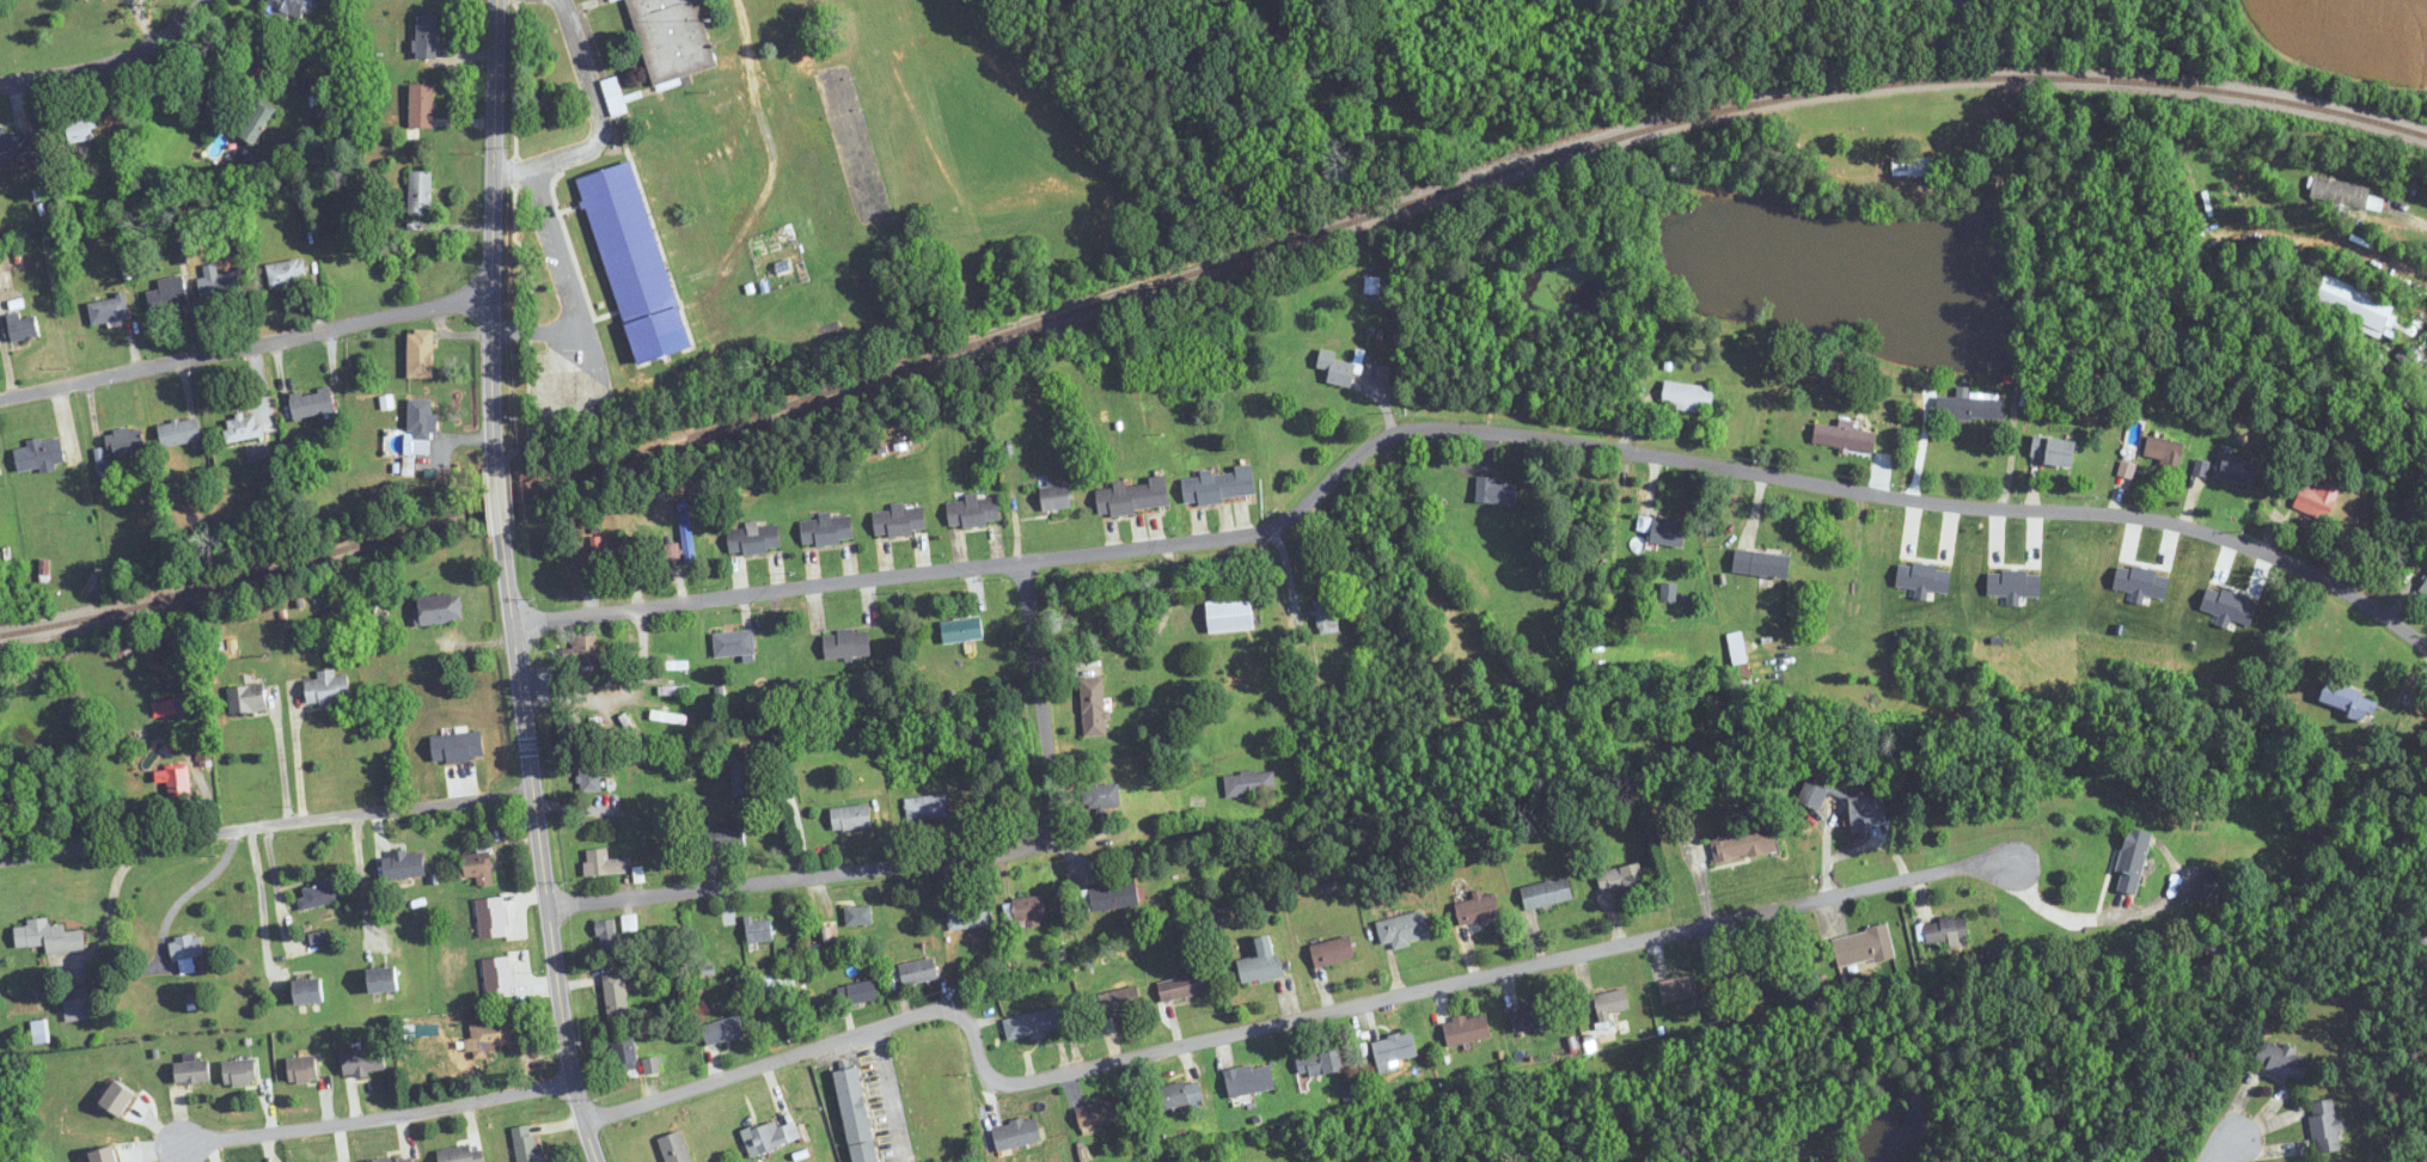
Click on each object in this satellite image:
building: (86, 0)
building: (287, 7)
building: (427, 36)
building: (671, 39)
road: (110, 61)
building: (613, 96)
building: (421, 105)
building: (677, 109)
building: (722, 111)
building: (256, 124)
building: (81, 129)
building: (17, 141)
building: (723, 165)
building: (1911, 166)
road: (518, 167)
road: (548, 184)
building: (420, 192)
building: (2345, 194)
road: (2414, 218)
road: (493, 232)
railway: (1203, 273)
building: (286, 274)
building: (218, 283)
building: (1368, 288)
building: (169, 294)
building: (2354, 304)
building: (109, 310)
road: (2018, 324)
building: (23, 328)
road: (246, 344)
building: (421, 353)
building: (1337, 368)
building: (1502, 371)
building: (1687, 396)
building: (311, 403)
building: (1970, 405)
building: (421, 426)
building: (243, 428)
road: (1469, 432)
building: (179, 433)
building: (1841, 434)
building: (124, 442)
building: (2054, 451)
building: (2164, 451)
building: (41, 454)
building: (2236, 469)
building: (1218, 487)
building: (1496, 493)
building: (1133, 496)
building: (1056, 497)
road: (497, 499)
building: (2317, 500)
building: (973, 510)
road: (1016, 513)
building: (899, 521)
building: (827, 530)
building: (1662, 531)
building: (754, 538)
building: (687, 539)
road: (1271, 544)
building: (672, 551)
building: (623, 557)
building: (595, 559)
building: (1762, 564)
building: (2423, 588)
building: (439, 608)
building: (1326, 613)
building: (1230, 616)
building: (962, 630)
building: (734, 643)
building: (848, 643)
building: (673, 665)
building: (1740, 665)
building: (1241, 678)
building: (326, 689)
building: (671, 691)
road: (618, 692)
building: (247, 699)
building: (2349, 701)
road: (1038, 704)
building: (166, 708)
building: (1093, 708)
road: (297, 759)
road: (280, 764)
building: (744, 775)
building: (589, 778)
building: (176, 781)
building: (1249, 784)
building: (1812, 794)
building: (1101, 796)
building: (927, 807)
building: (1867, 812)
road: (796, 817)
building: (851, 817)
road: (267, 825)
building: (726, 837)
building: (1743, 845)
road: (542, 849)
road: (928, 858)
building: (2133, 861)
building: (603, 862)
building: (476, 867)
building: (1620, 877)
building: (2215, 885)
building: (1547, 893)
building: (318, 894)
building: (1111, 897)
road: (110, 904)
road: (262, 904)
building: (1026, 909)
building: (1478, 910)
building: (858, 915)
building: (970, 915)
road: (2065, 915)
building: (1405, 929)
building: (1945, 929)
building: (759, 930)
building: (606, 935)
building: (48, 936)
building: (1863, 947)
building: (185, 949)
building: (1332, 950)
building: (1261, 962)
building: (1763, 970)
building: (918, 972)
building: (383, 980)
building: (1185, 986)
building: (1679, 989)
building: (308, 991)
building: (857, 993)
building: (616, 997)
building: (1120, 1001)
building: (1613, 1003)
building: (75, 1004)
building: (1532, 1016)
building: (1034, 1023)
road: (1273, 1025)
building: (1467, 1029)
building: (723, 1030)
building: (38, 1032)
building: (490, 1036)
building: (1395, 1048)
building: (624, 1056)
building: (2282, 1060)
building: (363, 1062)
building: (1320, 1063)
building: (302, 1070)
building: (191, 1072)
building: (239, 1072)
building: (1251, 1080)
road: (885, 1095)
building: (1173, 1095)
building: (118, 1097)
road: (991, 1100)
building: (1099, 1112)
building: (857, 1114)
road: (377, 1118)
building: (2324, 1125)
building: (1017, 1133)
building: (770, 1136)
building: (526, 1143)
road: (2218, 1146)
building: (675, 1148)
building: (460, 1154)
building: (104, 1155)

